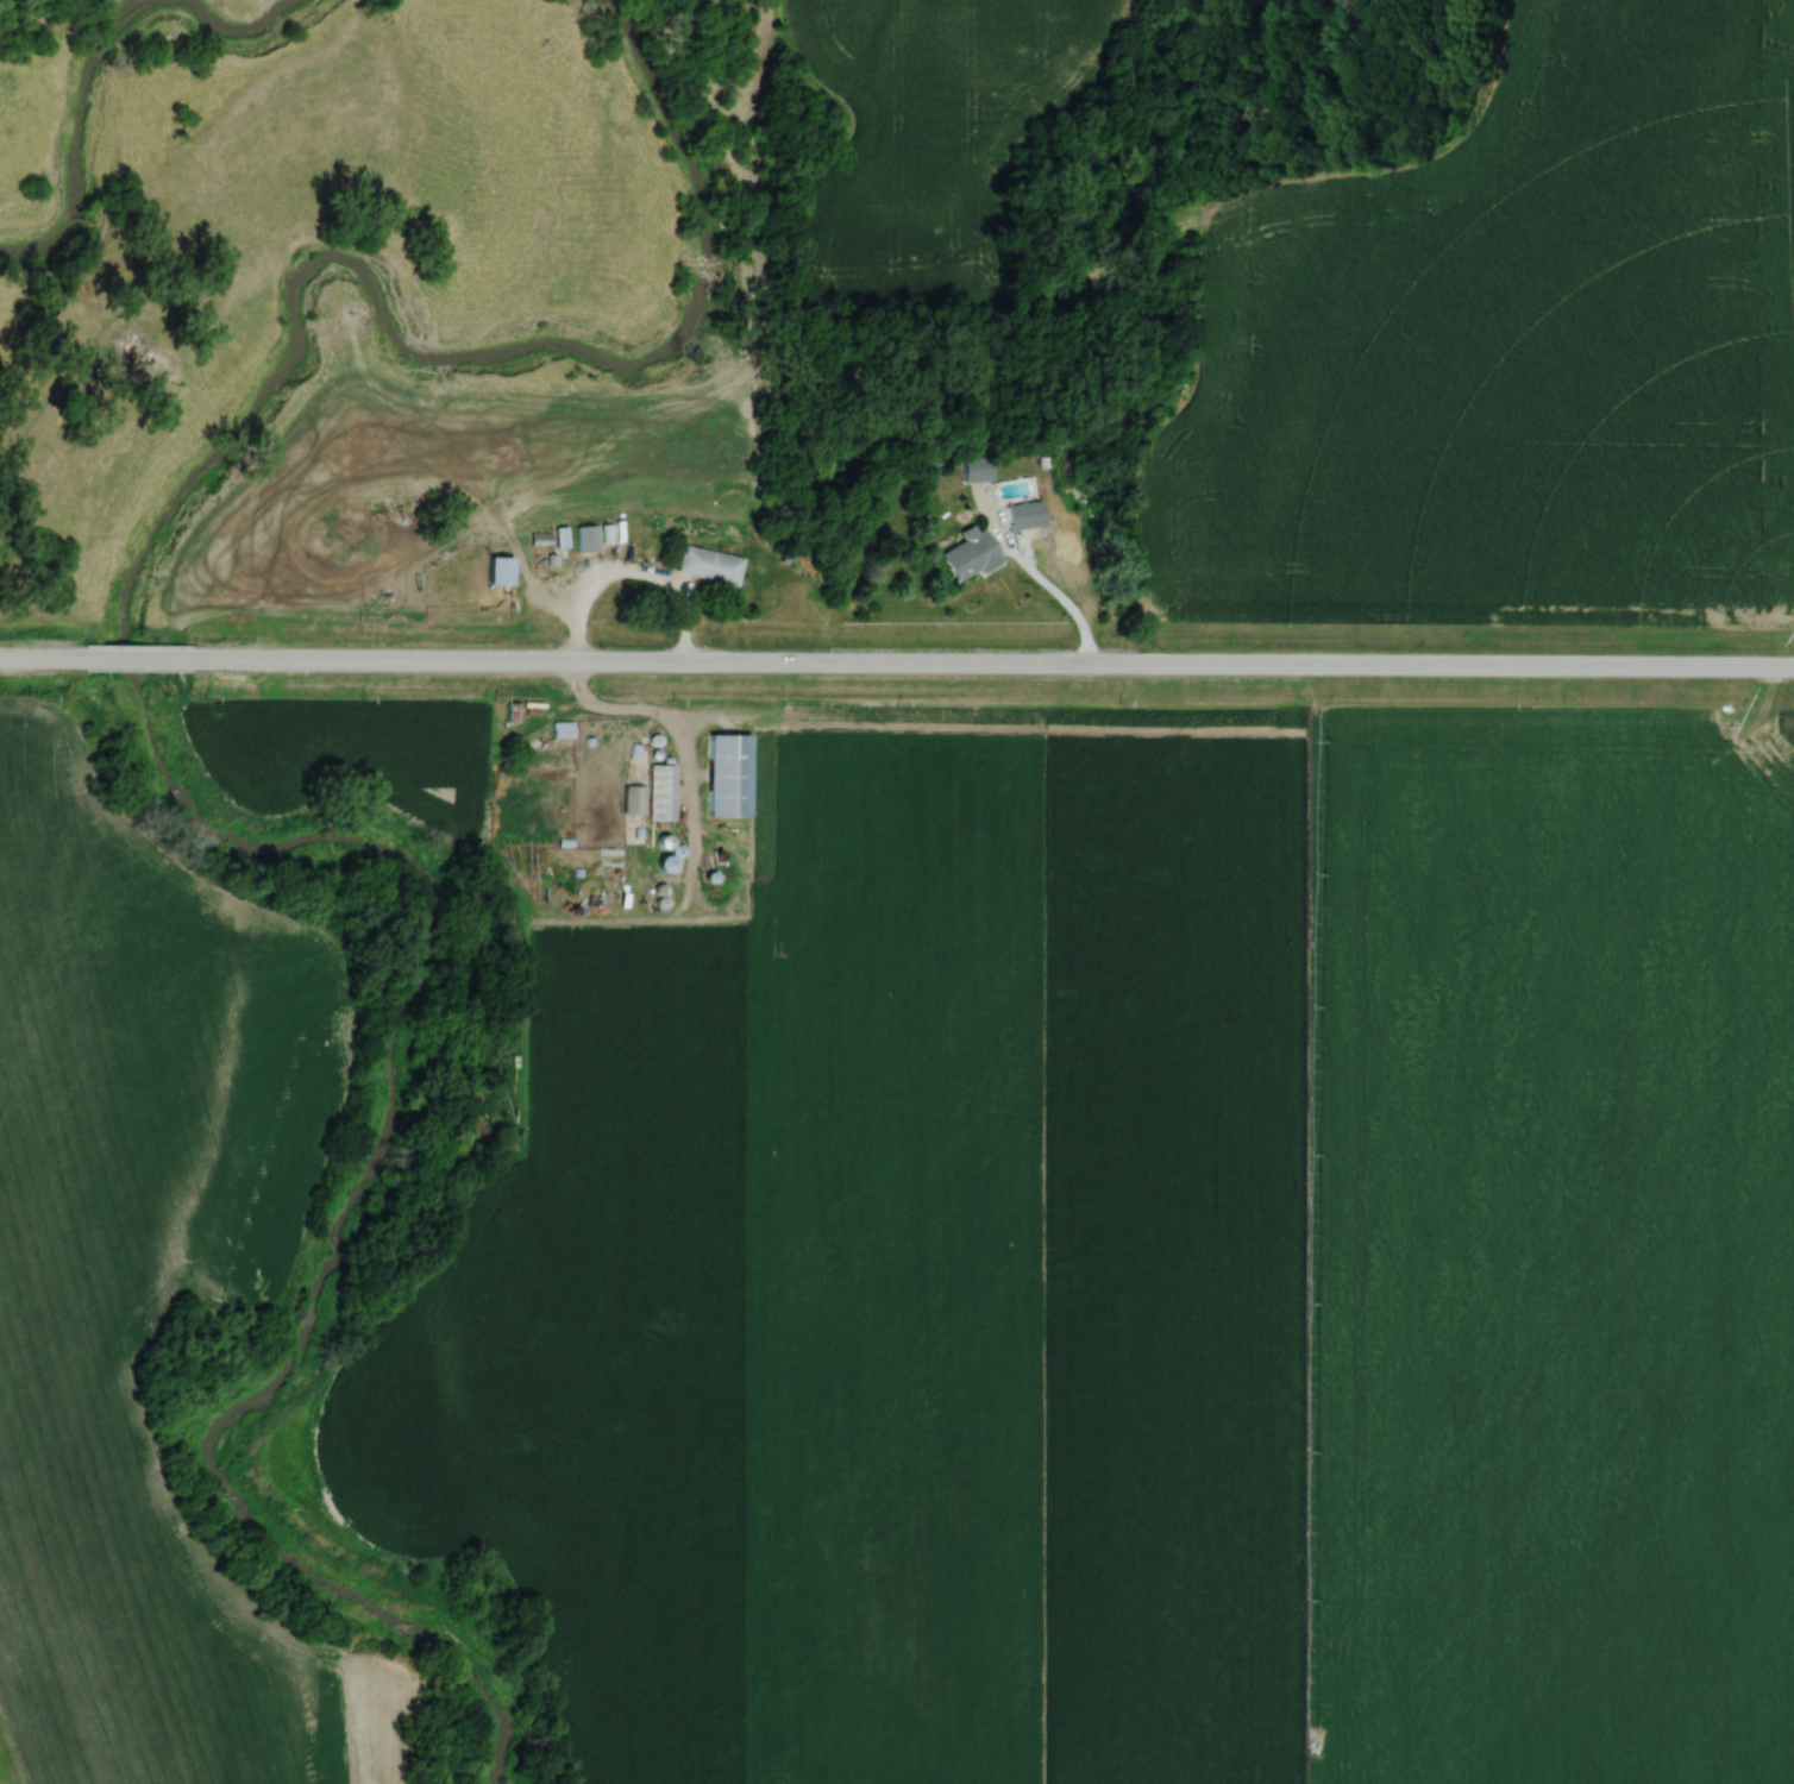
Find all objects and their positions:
river: (93, 63)
crop: (1513, 350)
building: (974, 466)
building: (1024, 513)
building: (584, 538)
building: (1065, 539)
building: (970, 554)
building: (709, 567)
building: (500, 570)
road: (631, 585)
road: (1055, 604)
road: (30, 660)
road: (123, 660)
road: (989, 664)
road: (633, 716)
building: (562, 731)
building: (724, 771)
river: (155, 781)
building: (658, 791)
building: (633, 800)
building: (667, 863)
crop: (123, 1289)

